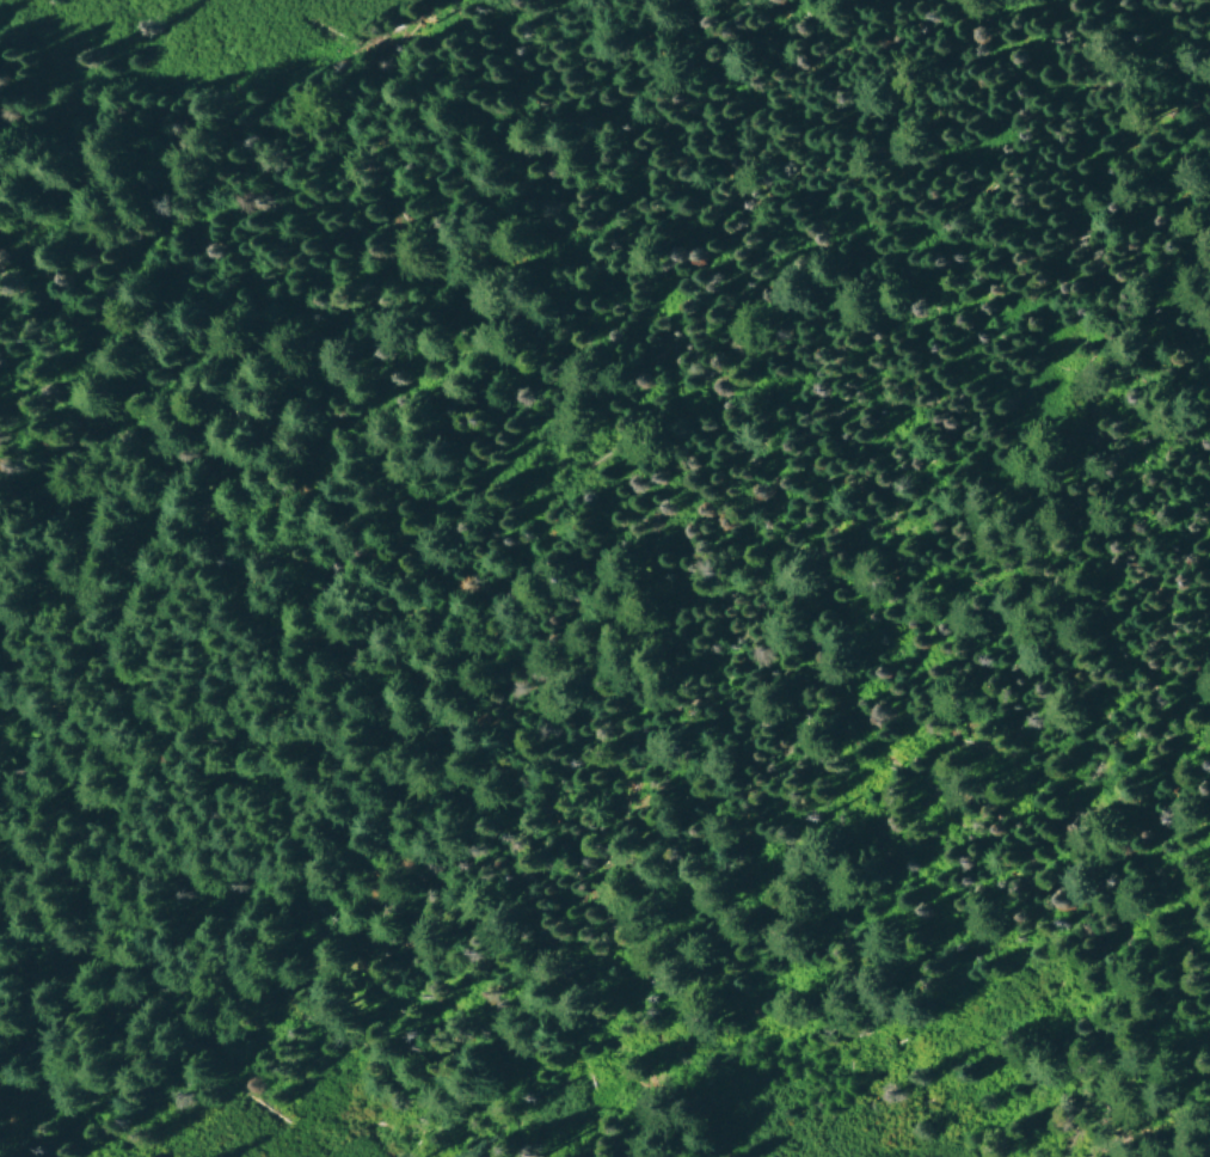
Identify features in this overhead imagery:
road: (1206, 6)
road: (1157, 268)

